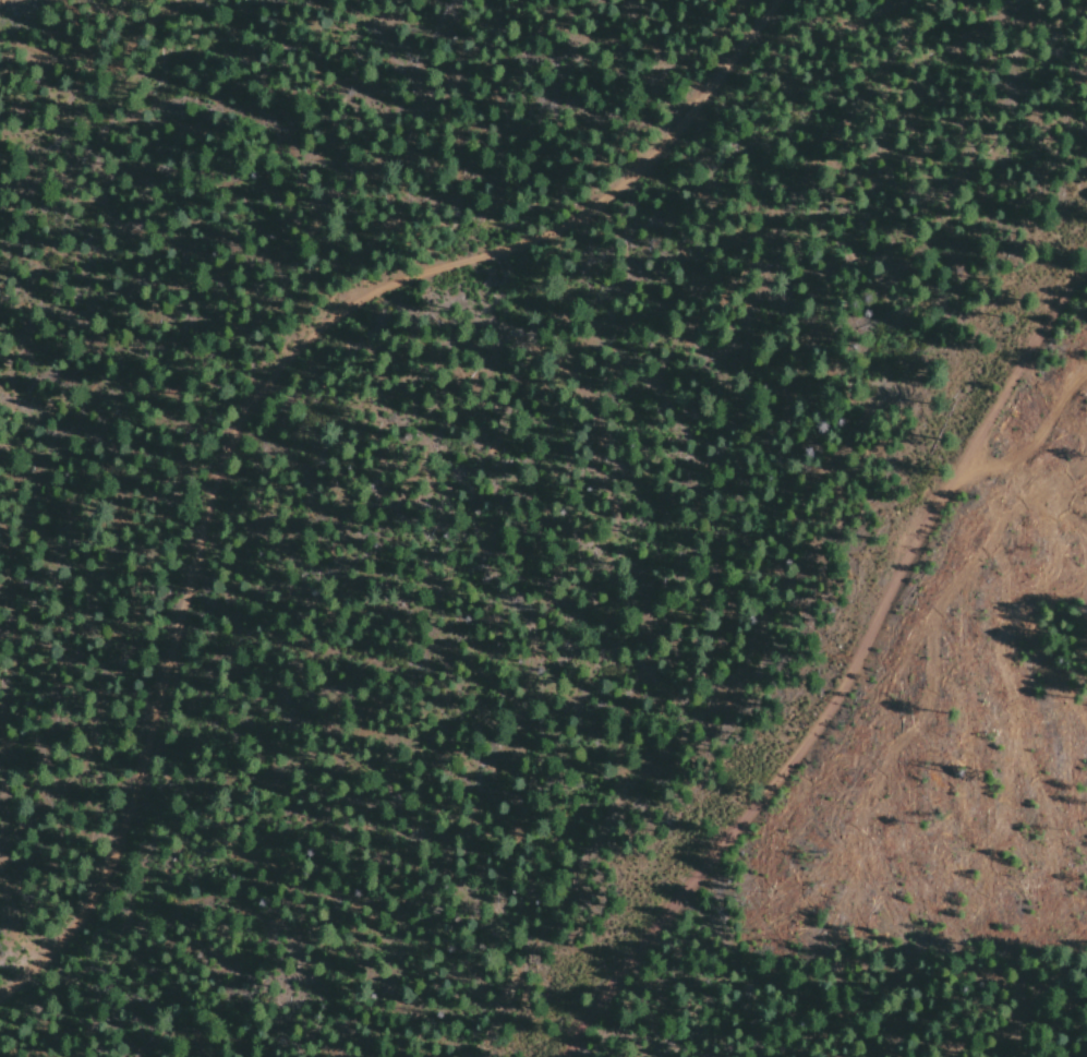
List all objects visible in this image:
road: (1053, 41)
road: (1049, 388)
road: (259, 396)
road: (834, 671)

